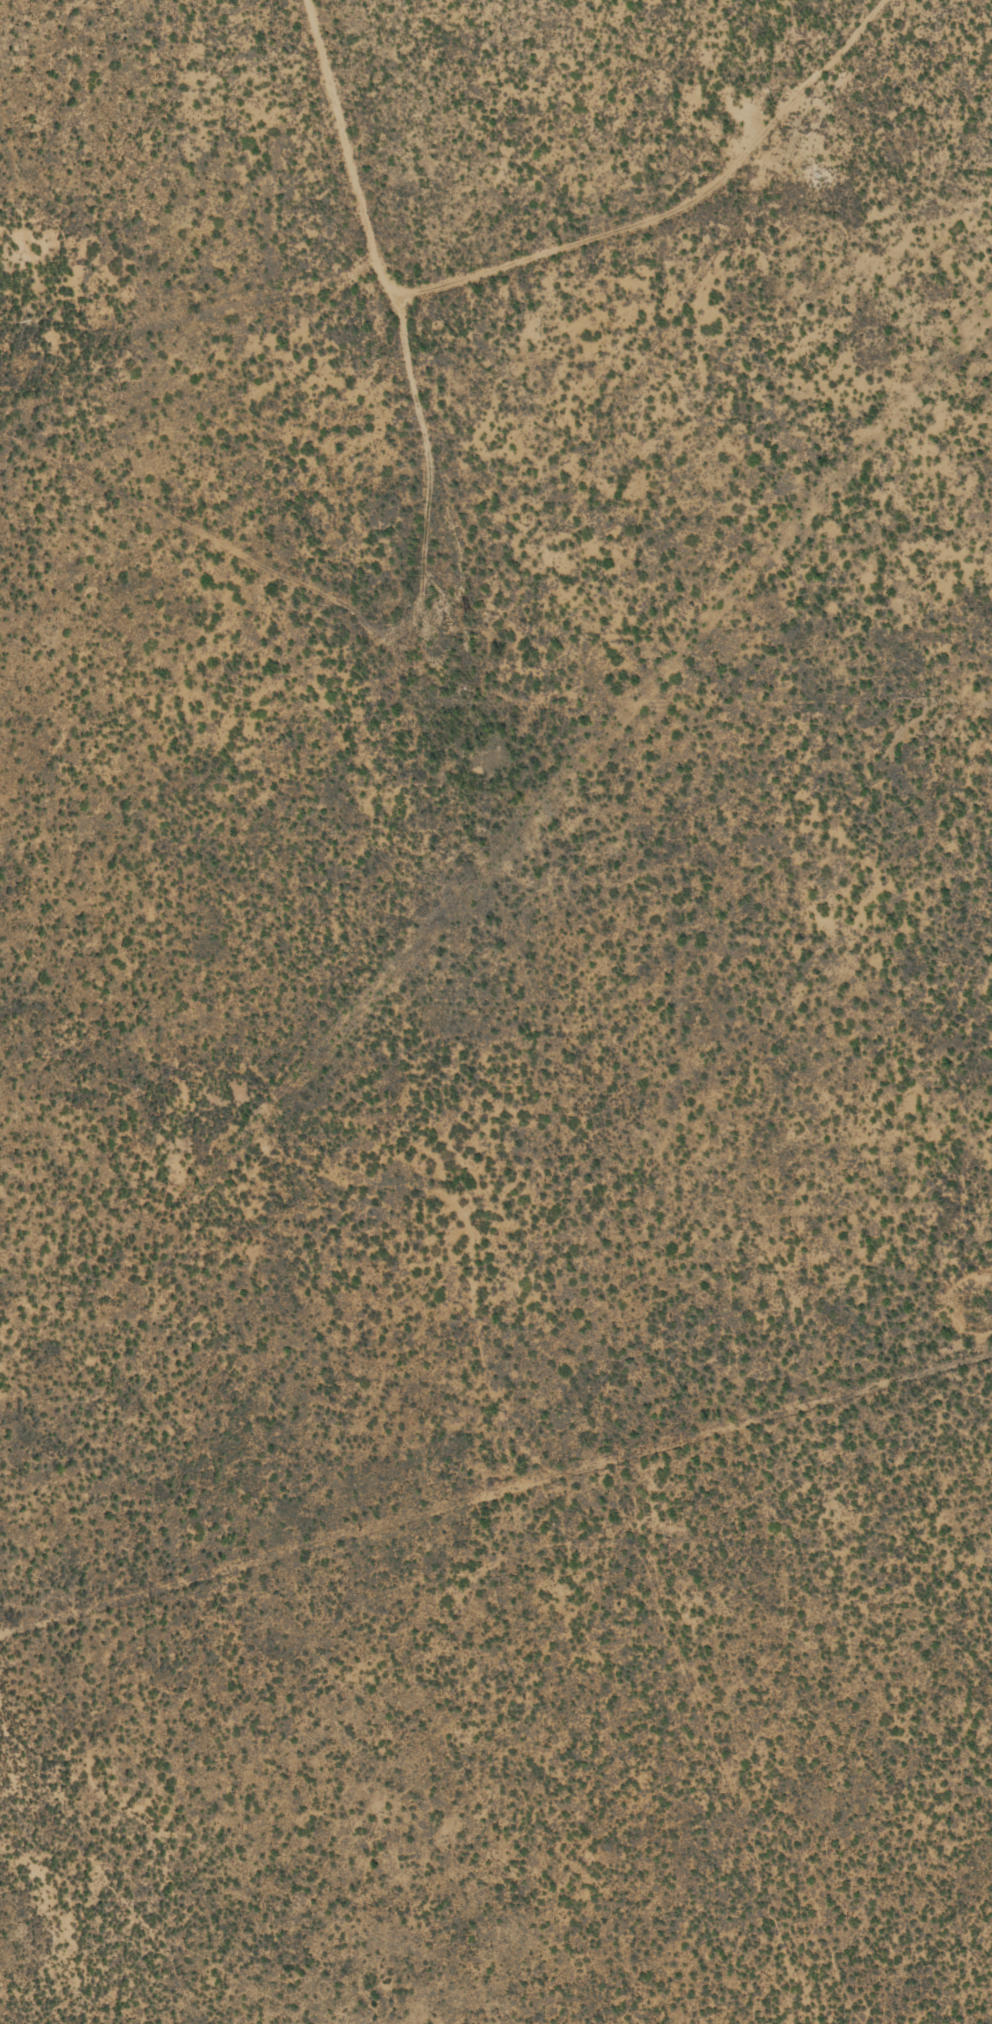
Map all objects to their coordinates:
road: (604, 249)
road: (262, 293)
road: (427, 393)

